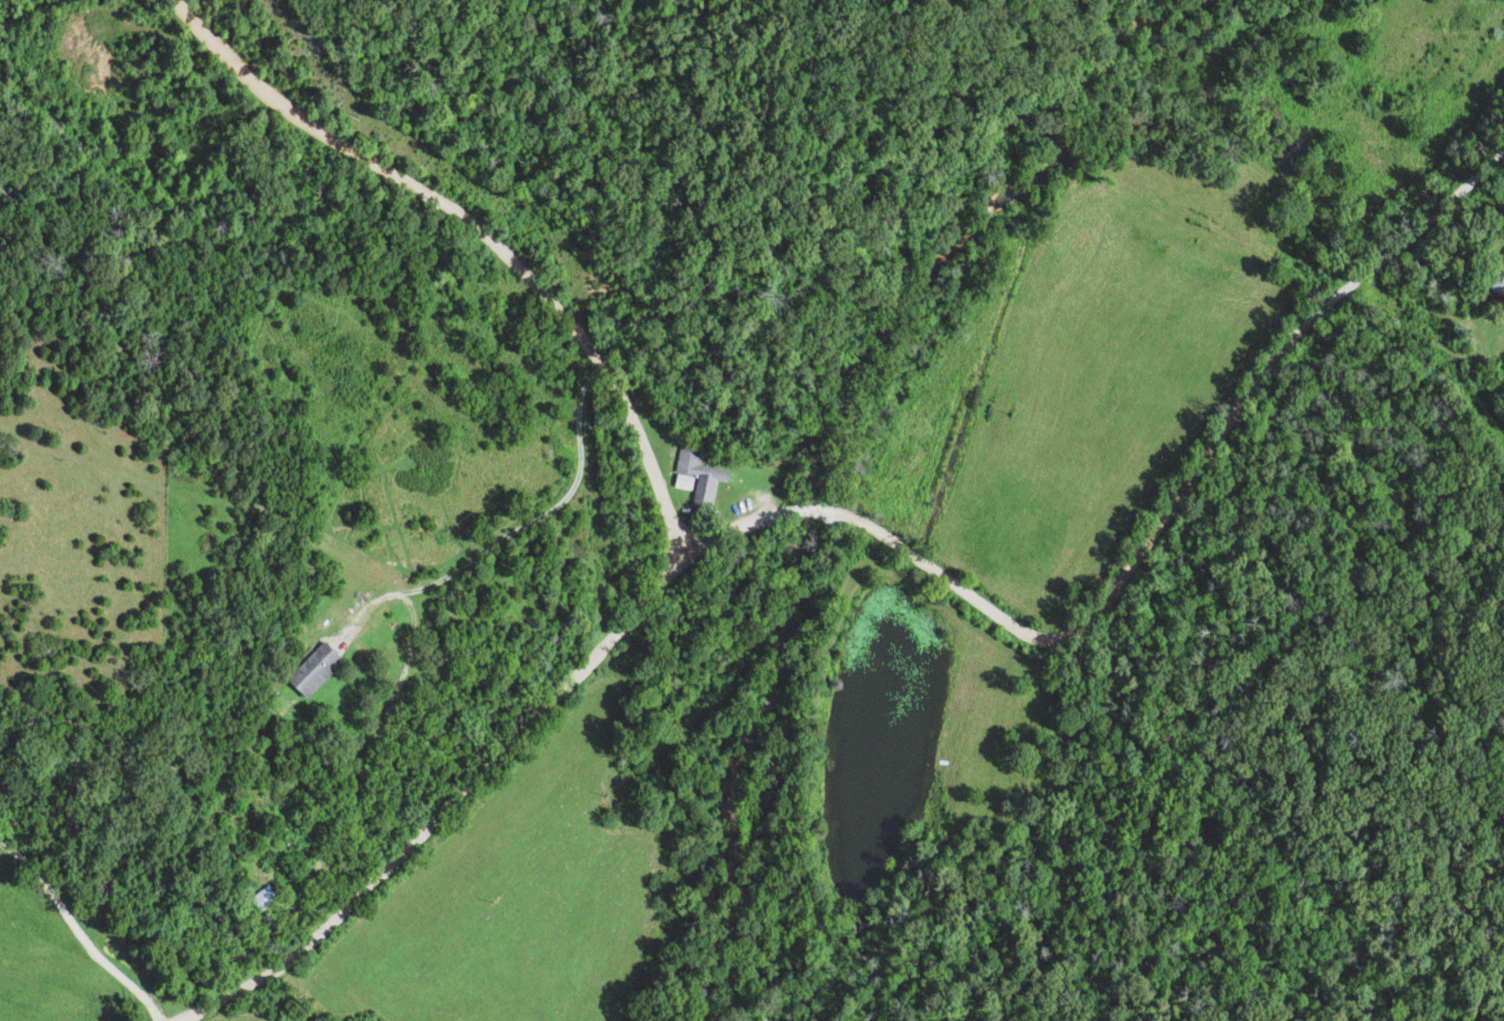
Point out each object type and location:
road: (468, 237)
building: (1497, 288)
building: (1500, 348)
building: (695, 478)
road: (871, 542)
road: (1430, 548)
building: (309, 670)
road: (332, 817)
building: (258, 900)
road: (72, 925)

